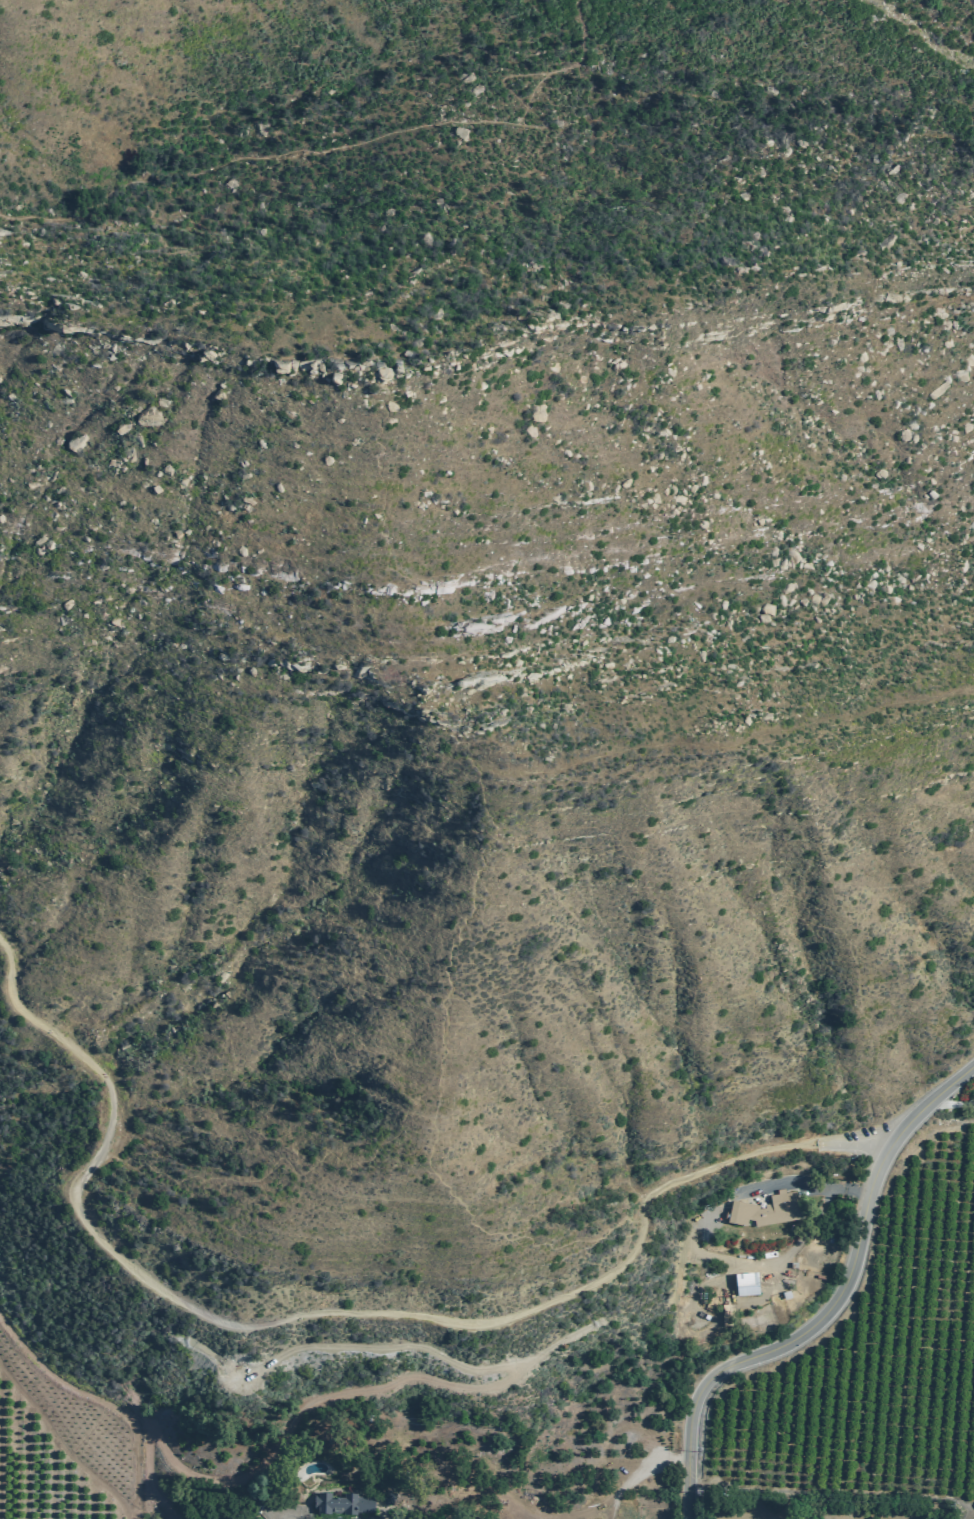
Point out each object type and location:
road: (582, 37)
road: (538, 122)
road: (952, 1103)
parking lot: (853, 1139)
road: (810, 1182)
building: (764, 1210)
building: (744, 1284)
road: (832, 1308)
road: (334, 1315)
road: (405, 1345)
building: (204, 1352)
storage tank: (204, 1352)
building: (214, 1360)
storage tank: (214, 1360)
road: (292, 1446)
road: (833, 1490)
building: (387, 1498)
building: (339, 1504)
road: (289, 1515)
road: (381, 1515)

